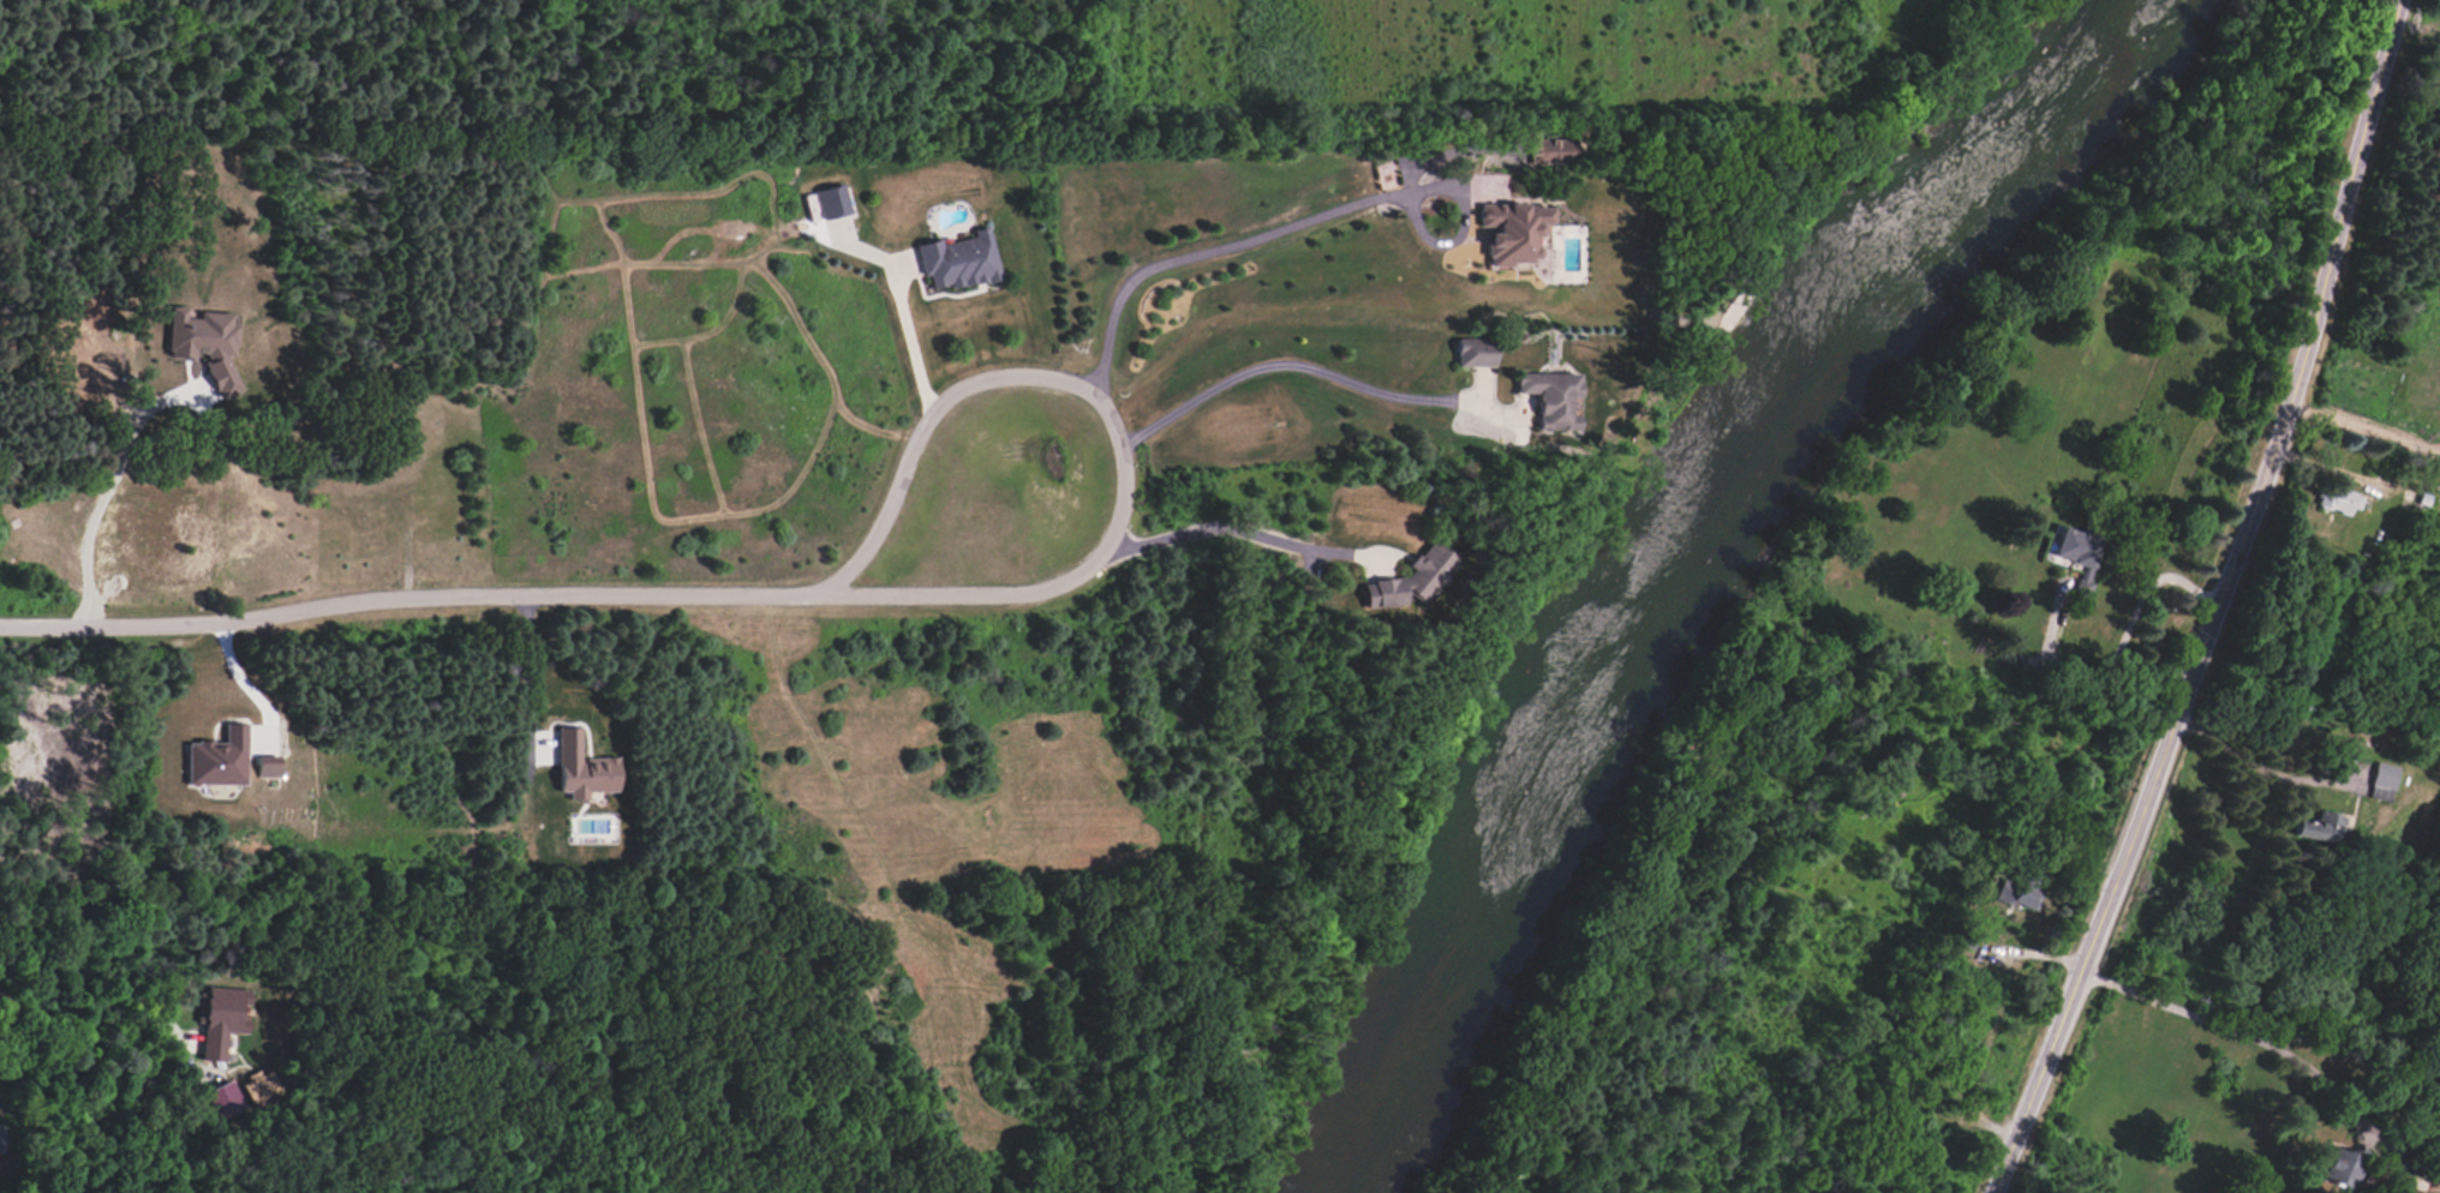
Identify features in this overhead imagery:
building: (1554, 150)
building: (831, 200)
building: (1512, 230)
road: (1214, 252)
building: (957, 260)
road: (905, 341)
building: (204, 344)
building: (1473, 352)
road: (1285, 366)
building: (1550, 396)
road: (1113, 425)
road: (109, 486)
building: (2338, 499)
road: (1244, 532)
river: (1651, 548)
building: (2079, 553)
building: (1412, 580)
road: (413, 600)
road: (2217, 604)
road: (2121, 645)
road: (527, 672)
building: (219, 759)
building: (267, 766)
building: (582, 768)
road: (2261, 769)
building: (2381, 780)
building: (2318, 828)
building: (2021, 885)
road: (6, 1011)
building: (220, 1018)
road: (76, 1019)
road: (2239, 1032)
building: (258, 1086)
building: (221, 1099)
building: (0, 1140)
building: (2342, 1167)

